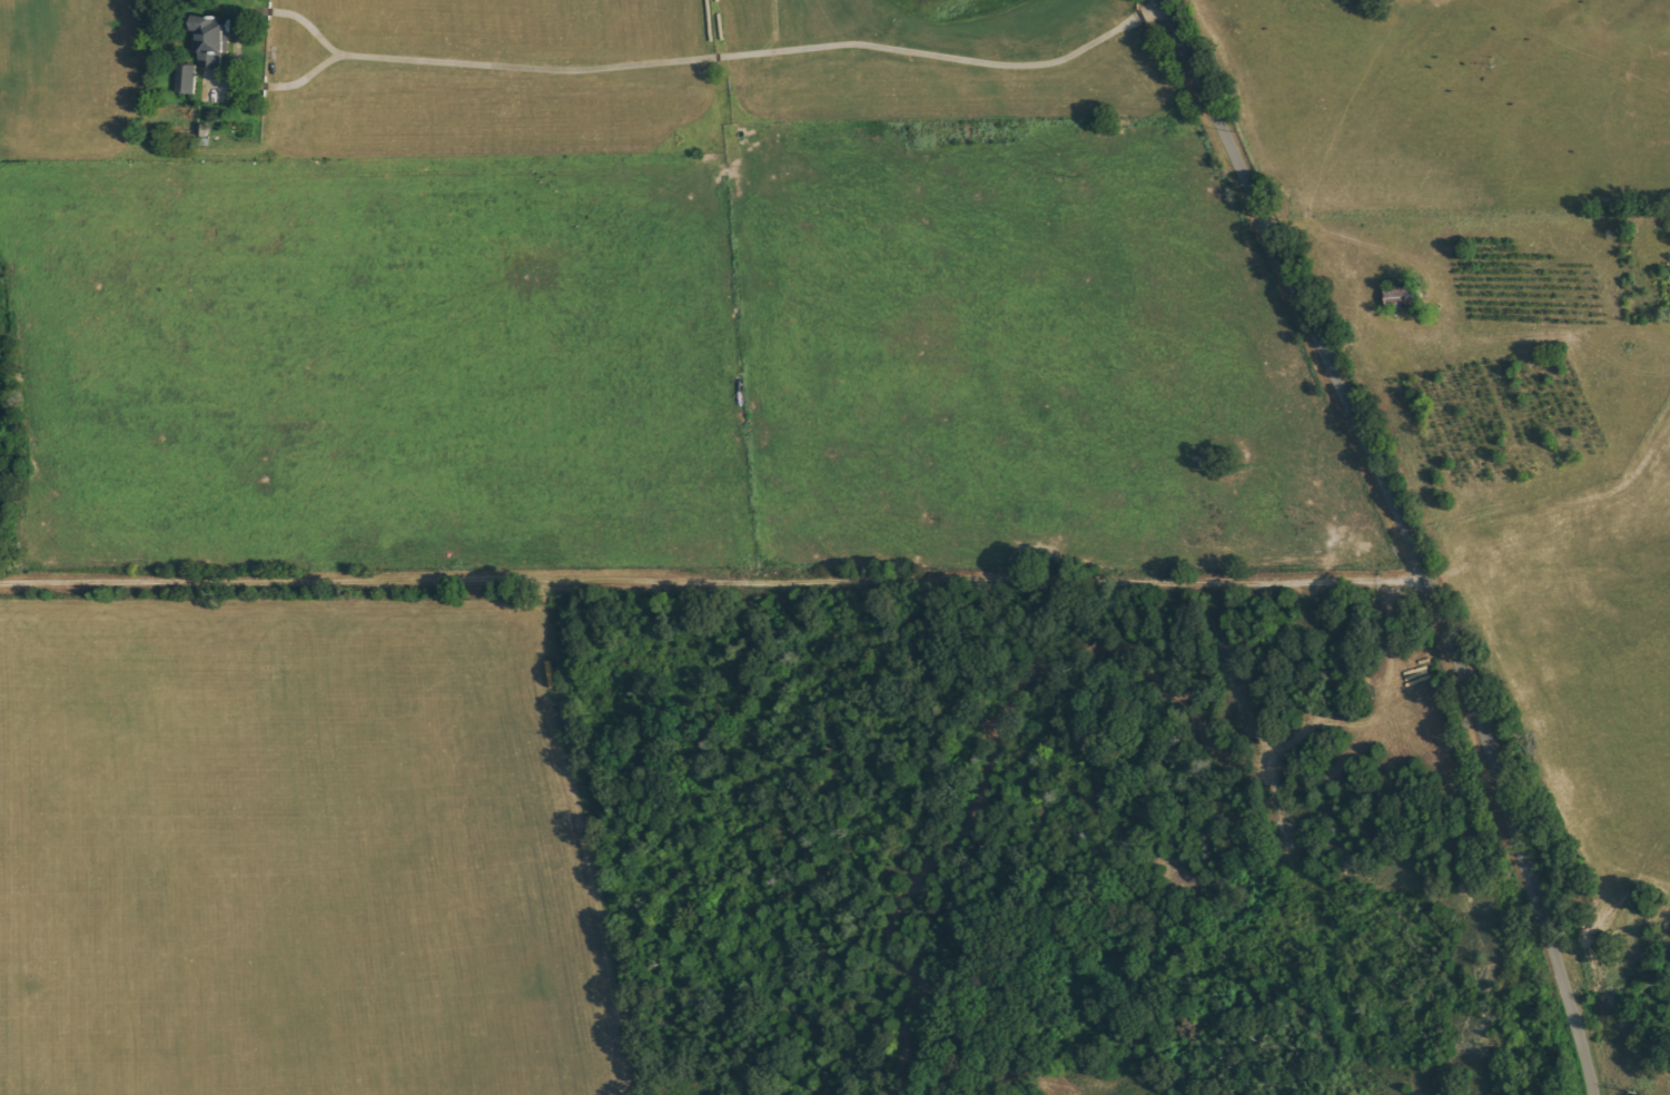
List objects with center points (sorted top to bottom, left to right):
building: (210, 43)
building: (186, 80)
road: (1405, 536)

